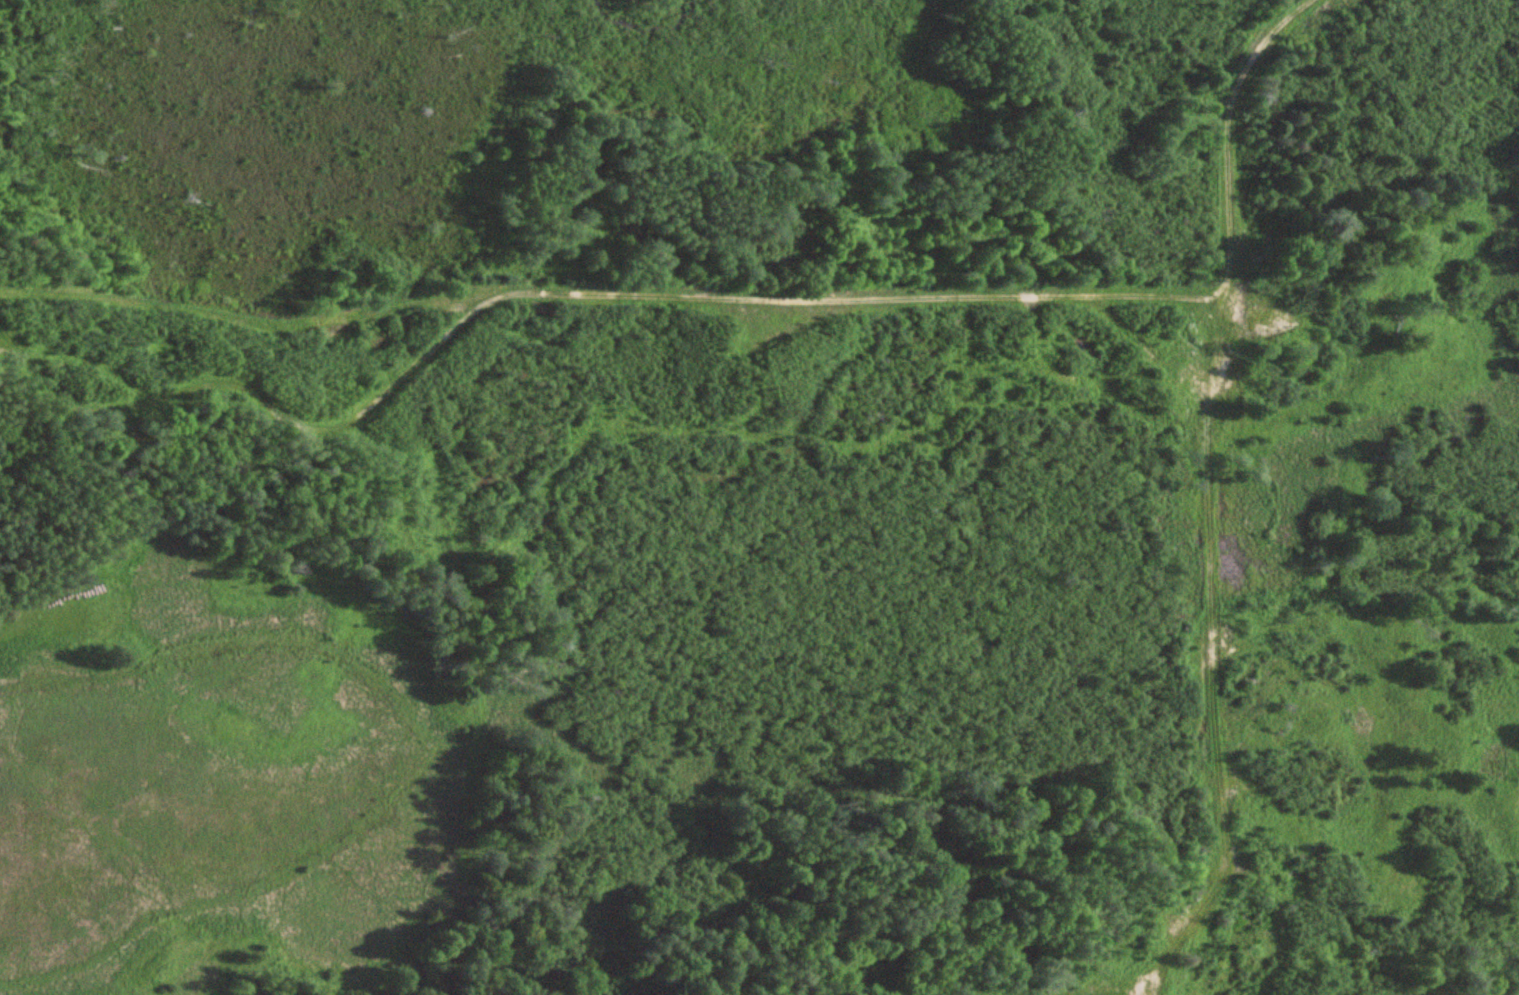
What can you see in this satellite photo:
road: (771, 298)
road: (255, 393)

